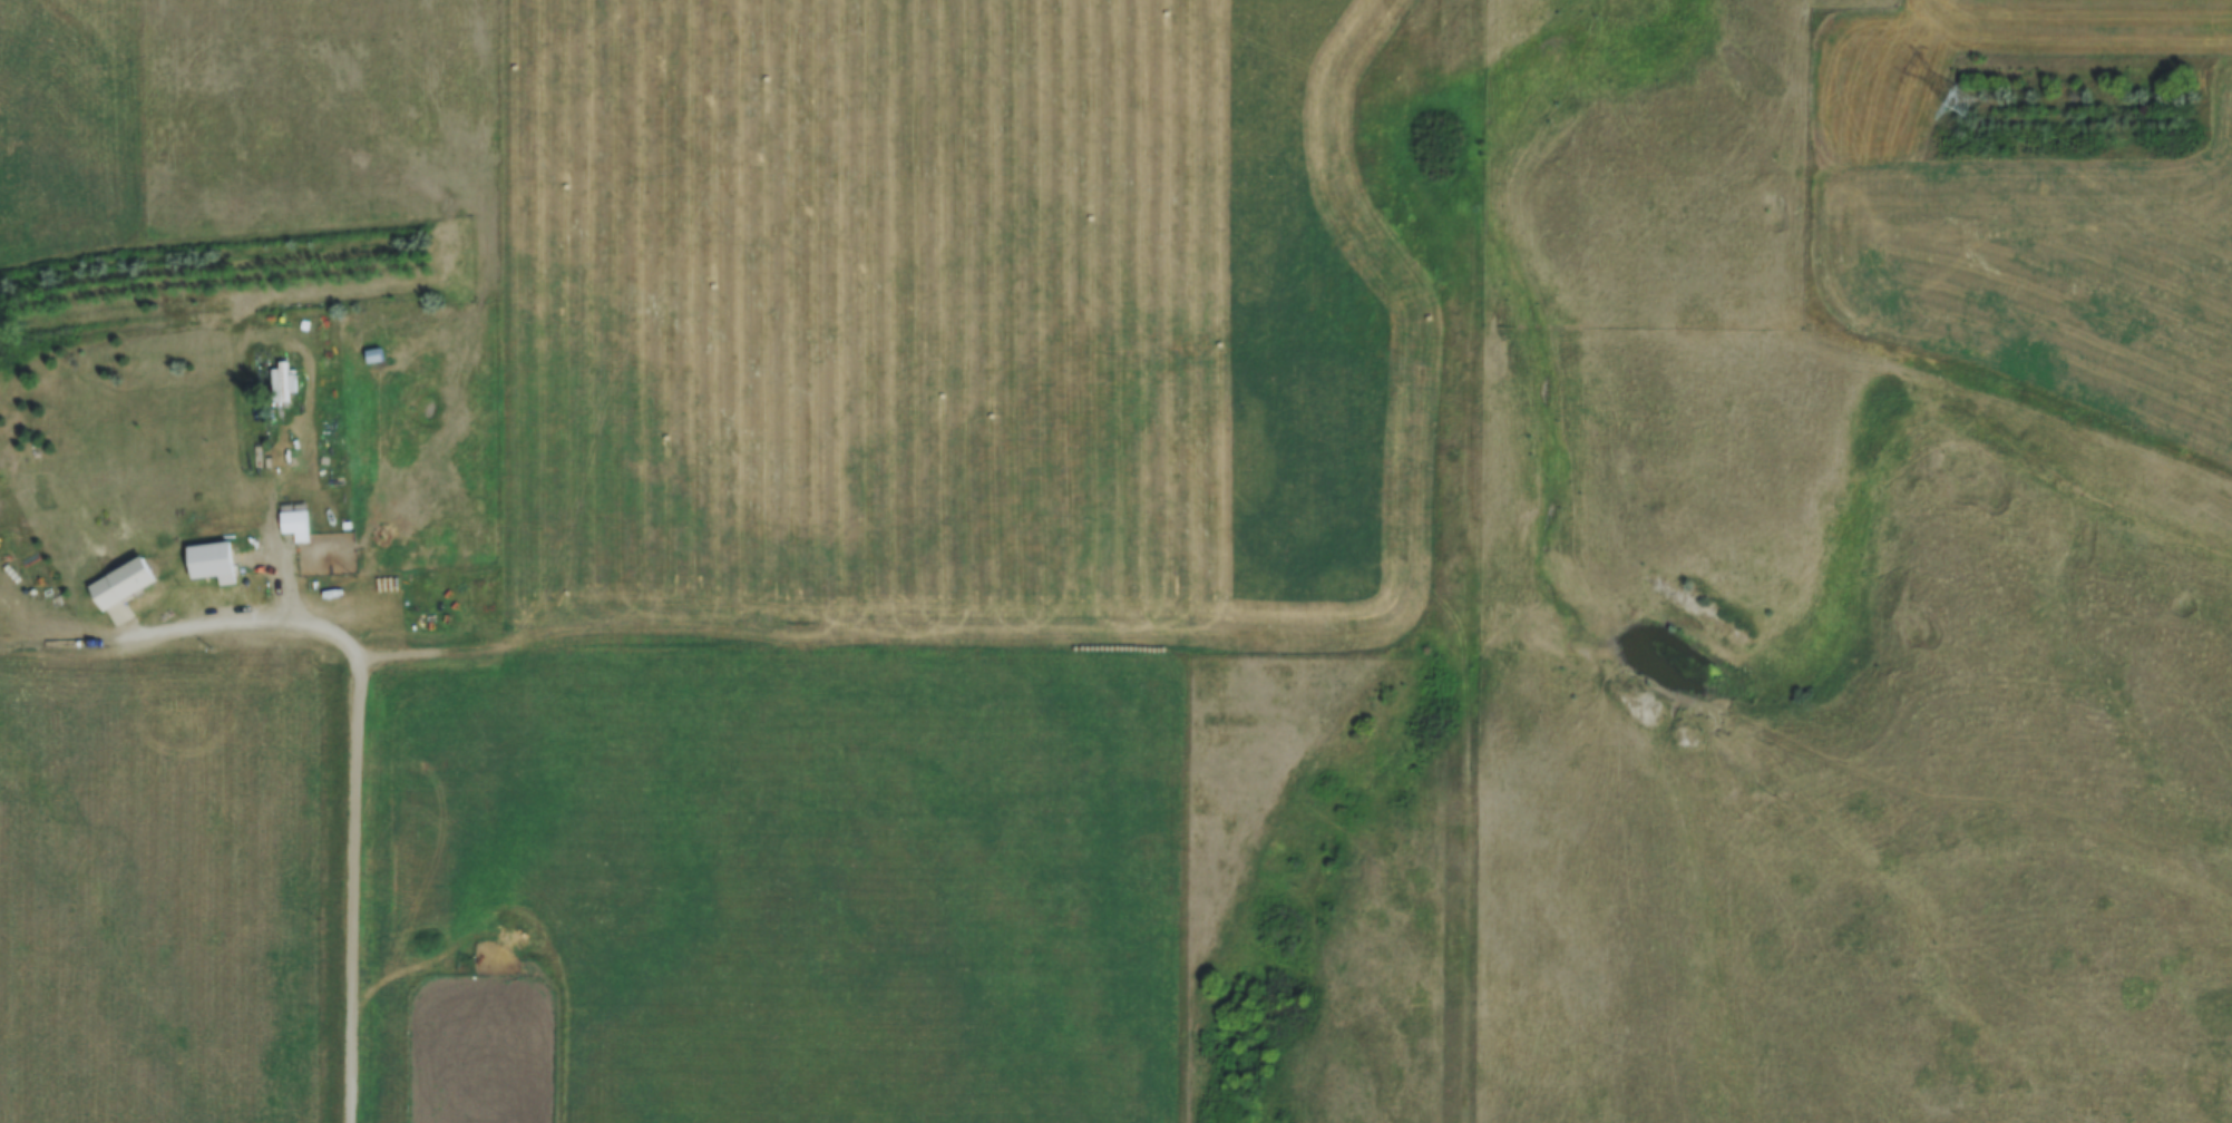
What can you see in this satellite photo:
power tower: (1969, 113)
building: (373, 354)
building: (294, 520)
building: (211, 560)
road: (1470, 561)
building: (123, 588)
road: (910, 654)
road: (354, 765)

